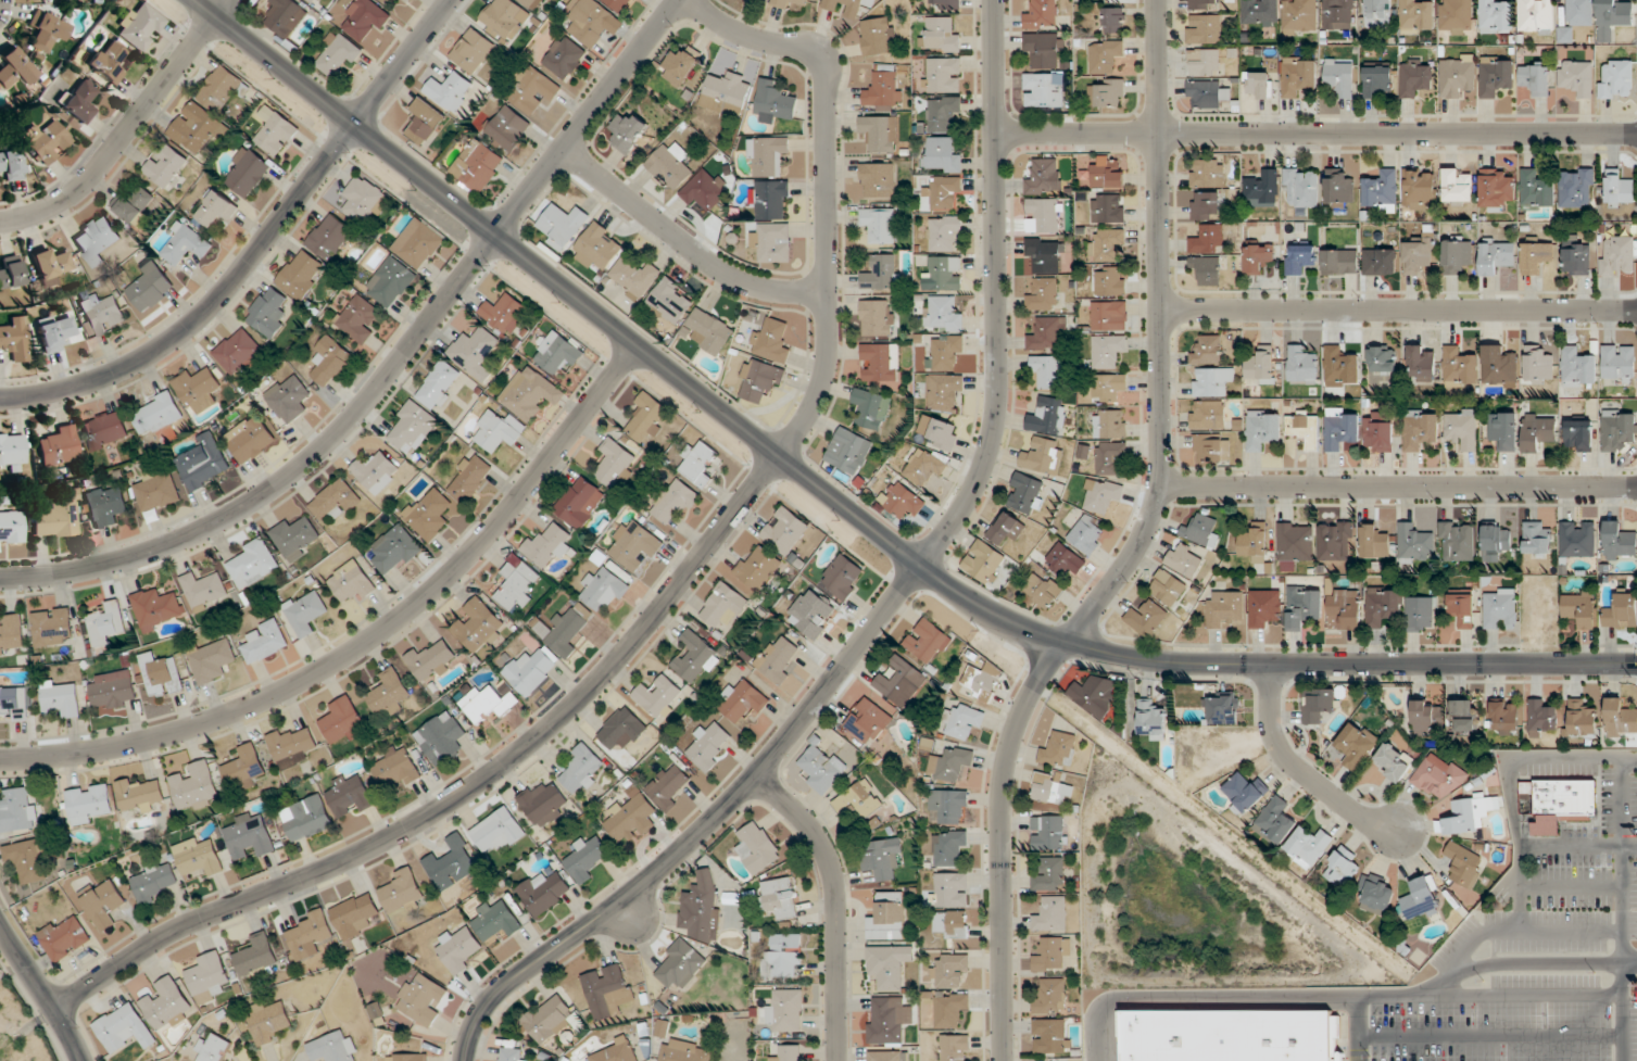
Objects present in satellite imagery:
building: (37, 0)
building: (312, 0)
building: (758, 0)
building: (387, 2)
building: (531, 3)
building: (945, 3)
building: (618, 4)
building: (791, 4)
building: (1204, 4)
building: (847, 7)
building: (1262, 12)
building: (1378, 13)
building: (1581, 13)
building: (1338, 14)
building: (1041, 15)
building: (1457, 15)
building: (285, 16)
building: (1416, 16)
building: (1496, 16)
building: (1300, 17)
building: (1536, 17)
building: (1612, 17)
building: (504, 20)
building: (1113, 20)
building: (364, 21)
building: (594, 22)
building: (139, 27)
building: (1204, 29)
building: (46, 31)
building: (942, 35)
building: (878, 36)
building: (1044, 50)
building: (473, 51)
building: (338, 53)
building: (1105, 55)
building: (565, 58)
building: (1205, 62)
building: (106, 63)
building: (681, 66)
building: (14, 70)
building: (944, 75)
building: (1457, 75)
building: (1299, 76)
building: (1495, 76)
building: (1339, 77)
building: (1415, 78)
building: (1535, 78)
building: (1576, 78)
building: (1615, 80)
building: (1376, 81)
building: (1259, 85)
building: (449, 90)
building: (533, 90)
building: (1043, 90)
building: (883, 91)
building: (727, 93)
building: (1108, 93)
building: (1207, 94)
building: (79, 101)
building: (773, 102)
building: (206, 112)
building: (943, 113)
building: (425, 122)
building: (509, 128)
road: (126, 129)
building: (629, 131)
building: (879, 132)
road: (1315, 132)
building: (276, 135)
building: (45, 143)
building: (768, 154)
building: (942, 155)
building: (165, 165)
building: (10, 166)
building: (478, 166)
building: (670, 166)
building: (1108, 172)
building: (245, 173)
building: (1208, 173)
building: (1044, 177)
building: (878, 180)
building: (1301, 187)
building: (1338, 187)
building: (1459, 187)
building: (1577, 187)
building: (705, 189)
building: (1420, 189)
building: (1262, 190)
building: (1496, 190)
building: (1537, 190)
building: (1620, 190)
building: (944, 191)
building: (1383, 191)
building: (364, 200)
building: (771, 200)
building: (134, 204)
building: (1207, 205)
building: (1108, 209)
building: (216, 210)
building: (1043, 215)
building: (879, 225)
building: (561, 226)
building: (945, 233)
building: (329, 238)
building: (1208, 239)
building: (96, 240)
building: (772, 242)
building: (418, 243)
road: (683, 243)
building: (184, 245)
road: (257, 245)
building: (1107, 245)
building: (599, 247)
building: (1046, 254)
building: (1419, 254)
building: (1456, 255)
building: (1496, 255)
building: (1617, 255)
building: (1575, 256)
building: (1536, 257)
building: (1258, 258)
building: (1300, 260)
building: (1340, 262)
building: (1380, 263)
building: (50, 267)
building: (1207, 269)
building: (882, 273)
building: (10, 274)
building: (945, 274)
building: (301, 276)
building: (633, 278)
building: (1110, 281)
building: (391, 282)
building: (149, 289)
building: (1043, 295)
building: (670, 301)
road: (1398, 311)
building: (267, 313)
building: (505, 314)
building: (103, 315)
building: (943, 315)
building: (1109, 316)
building: (878, 318)
building: (360, 319)
building: (708, 331)
building: (55, 333)
building: (1047, 333)
building: (15, 339)
building: (771, 341)
building: (1108, 351)
building: (1207, 351)
building: (237, 352)
building: (944, 352)
building: (475, 353)
building: (558, 354)
building: (1383, 358)
building: (330, 361)
building: (1422, 364)
building: (1619, 364)
building: (881, 365)
building: (1261, 365)
road: (393, 366)
building: (1302, 366)
building: (1538, 366)
building: (1499, 367)
building: (1340, 368)
building: (1460, 368)
building: (1578, 368)
building: (1048, 371)
building: (759, 380)
building: (1211, 381)
building: (439, 386)
building: (1108, 387)
building: (197, 391)
building: (944, 391)
building: (530, 393)
building: (288, 399)
building: (870, 408)
building: (158, 414)
building: (1208, 414)
building: (1047, 416)
building: (648, 418)
building: (1110, 424)
building: (412, 428)
building: (1304, 428)
building: (1340, 429)
building: (1461, 429)
building: (1262, 430)
building: (1420, 430)
building: (1503, 430)
building: (1617, 430)
building: (105, 431)
building: (498, 432)
building: (1378, 432)
building: (1538, 432)
building: (943, 434)
building: (1579, 437)
building: (249, 439)
building: (60, 446)
building: (1211, 447)
building: (848, 451)
building: (13, 452)
building: (1043, 456)
building: (1111, 458)
building: (203, 463)
building: (614, 463)
building: (698, 465)
building: (924, 469)
building: (375, 472)
building: (469, 479)
road: (1397, 485)
building: (156, 492)
building: (1025, 494)
building: (1101, 495)
building: (335, 501)
building: (675, 501)
building: (902, 502)
building: (580, 503)
building: (105, 506)
road: (849, 508)
building: (429, 514)
building: (55, 520)
building: (12, 528)
building: (1007, 529)
building: (785, 531)
building: (1202, 532)
building: (1086, 534)
building: (294, 538)
building: (1537, 538)
building: (1577, 539)
building: (1336, 541)
building: (1458, 541)
building: (1254, 542)
building: (1374, 542)
building: (1495, 542)
building: (1620, 542)
building: (1294, 544)
building: (1414, 545)
building: (547, 546)
building: (633, 546)
road: (1134, 548)
building: (395, 550)
building: (1184, 559)
building: (1065, 560)
building: (984, 561)
building: (251, 564)
building: (757, 568)
building: (843, 578)
building: (352, 582)
building: (517, 586)
building: (1168, 588)
building: (203, 590)
building: (604, 590)
building: (1043, 590)
road: (665, 601)
road: (889, 603)
building: (1304, 606)
building: (1382, 606)
building: (722, 608)
building: (1224, 608)
building: (1264, 608)
building: (1461, 608)
building: (1581, 608)
building: (158, 609)
building: (1345, 609)
building: (1500, 609)
building: (1621, 611)
building: (304, 612)
building: (811, 614)
building: (1420, 614)
building: (1146, 618)
building: (108, 624)
building: (478, 626)
building: (53, 627)
building: (565, 633)
building: (12, 634)
road: (372, 636)
building: (265, 642)
building: (929, 642)
building: (694, 658)
building: (777, 659)
building: (212, 660)
building: (430, 661)
building: (530, 671)
building: (163, 675)
building: (896, 679)
building: (983, 682)
building: (113, 690)
building: (389, 692)
building: (1094, 694)
building: (658, 697)
building: (61, 698)
building: (742, 702)
building: (16, 703)
building: (483, 704)
building: (1318, 705)
building: (1222, 710)
building: (1427, 717)
building: (1464, 717)
building: (1506, 718)
building: (1541, 718)
building: (1583, 718)
building: (1621, 718)
building: (342, 721)
building: (964, 721)
building: (1151, 721)
building: (868, 722)
building: (621, 729)
building: (440, 738)
building: (708, 745)
building: (1356, 746)
building: (292, 747)
building: (1058, 750)
building: (1396, 758)
building: (950, 765)
building: (245, 767)
building: (396, 767)
building: (822, 769)
road: (1298, 769)
building: (582, 770)
building: (1437, 778)
building: (196, 787)
building: (1050, 790)
building: (1245, 792)
building: (140, 796)
building: (350, 796)
building: (859, 799)
building: (646, 804)
building: (1561, 804)
building: (89, 805)
building: (542, 805)
building: (949, 806)
building: (18, 810)
building: (1466, 817)
building: (307, 818)
building: (1275, 821)
building: (498, 832)
building: (1049, 833)
building: (250, 838)
building: (1309, 846)
building: (758, 848)
building: (949, 848)
building: (201, 858)
building: (27, 860)
building: (584, 860)
building: (882, 861)
building: (452, 863)
building: (1463, 864)
building: (1343, 868)
building: (1049, 875)
building: (153, 882)
building: (402, 891)
building: (950, 891)
building: (543, 894)
building: (1376, 895)
building: (780, 898)
building: (1422, 899)
building: (104, 904)
road: (835, 904)
building: (701, 909)
building: (355, 915)
building: (1052, 915)
building: (887, 918)
building: (496, 920)
building: (952, 925)
building: (310, 934)
building: (65, 938)
building: (459, 949)
building: (1050, 955)
building: (256, 956)
building: (783, 957)
building: (680, 964)
building: (887, 965)
building: (950, 971)
building: (209, 975)
road: (43, 991)
building: (607, 991)
building: (1052, 996)
building: (423, 998)
building: (167, 1005)
building: (786, 1010)
building: (950, 1010)
building: (547, 1020)
building: (887, 1021)
building: (269, 1022)
building: (124, 1030)
building: (1052, 1036)
building: (1230, 1036)
building: (213, 1048)
building: (333, 1048)
building: (955, 1048)
building: (685, 1051)
building: (615, 1052)
building: (511, 1053)
building: (790, 1053)
building: (886, 1056)
building: (406, 1057)

